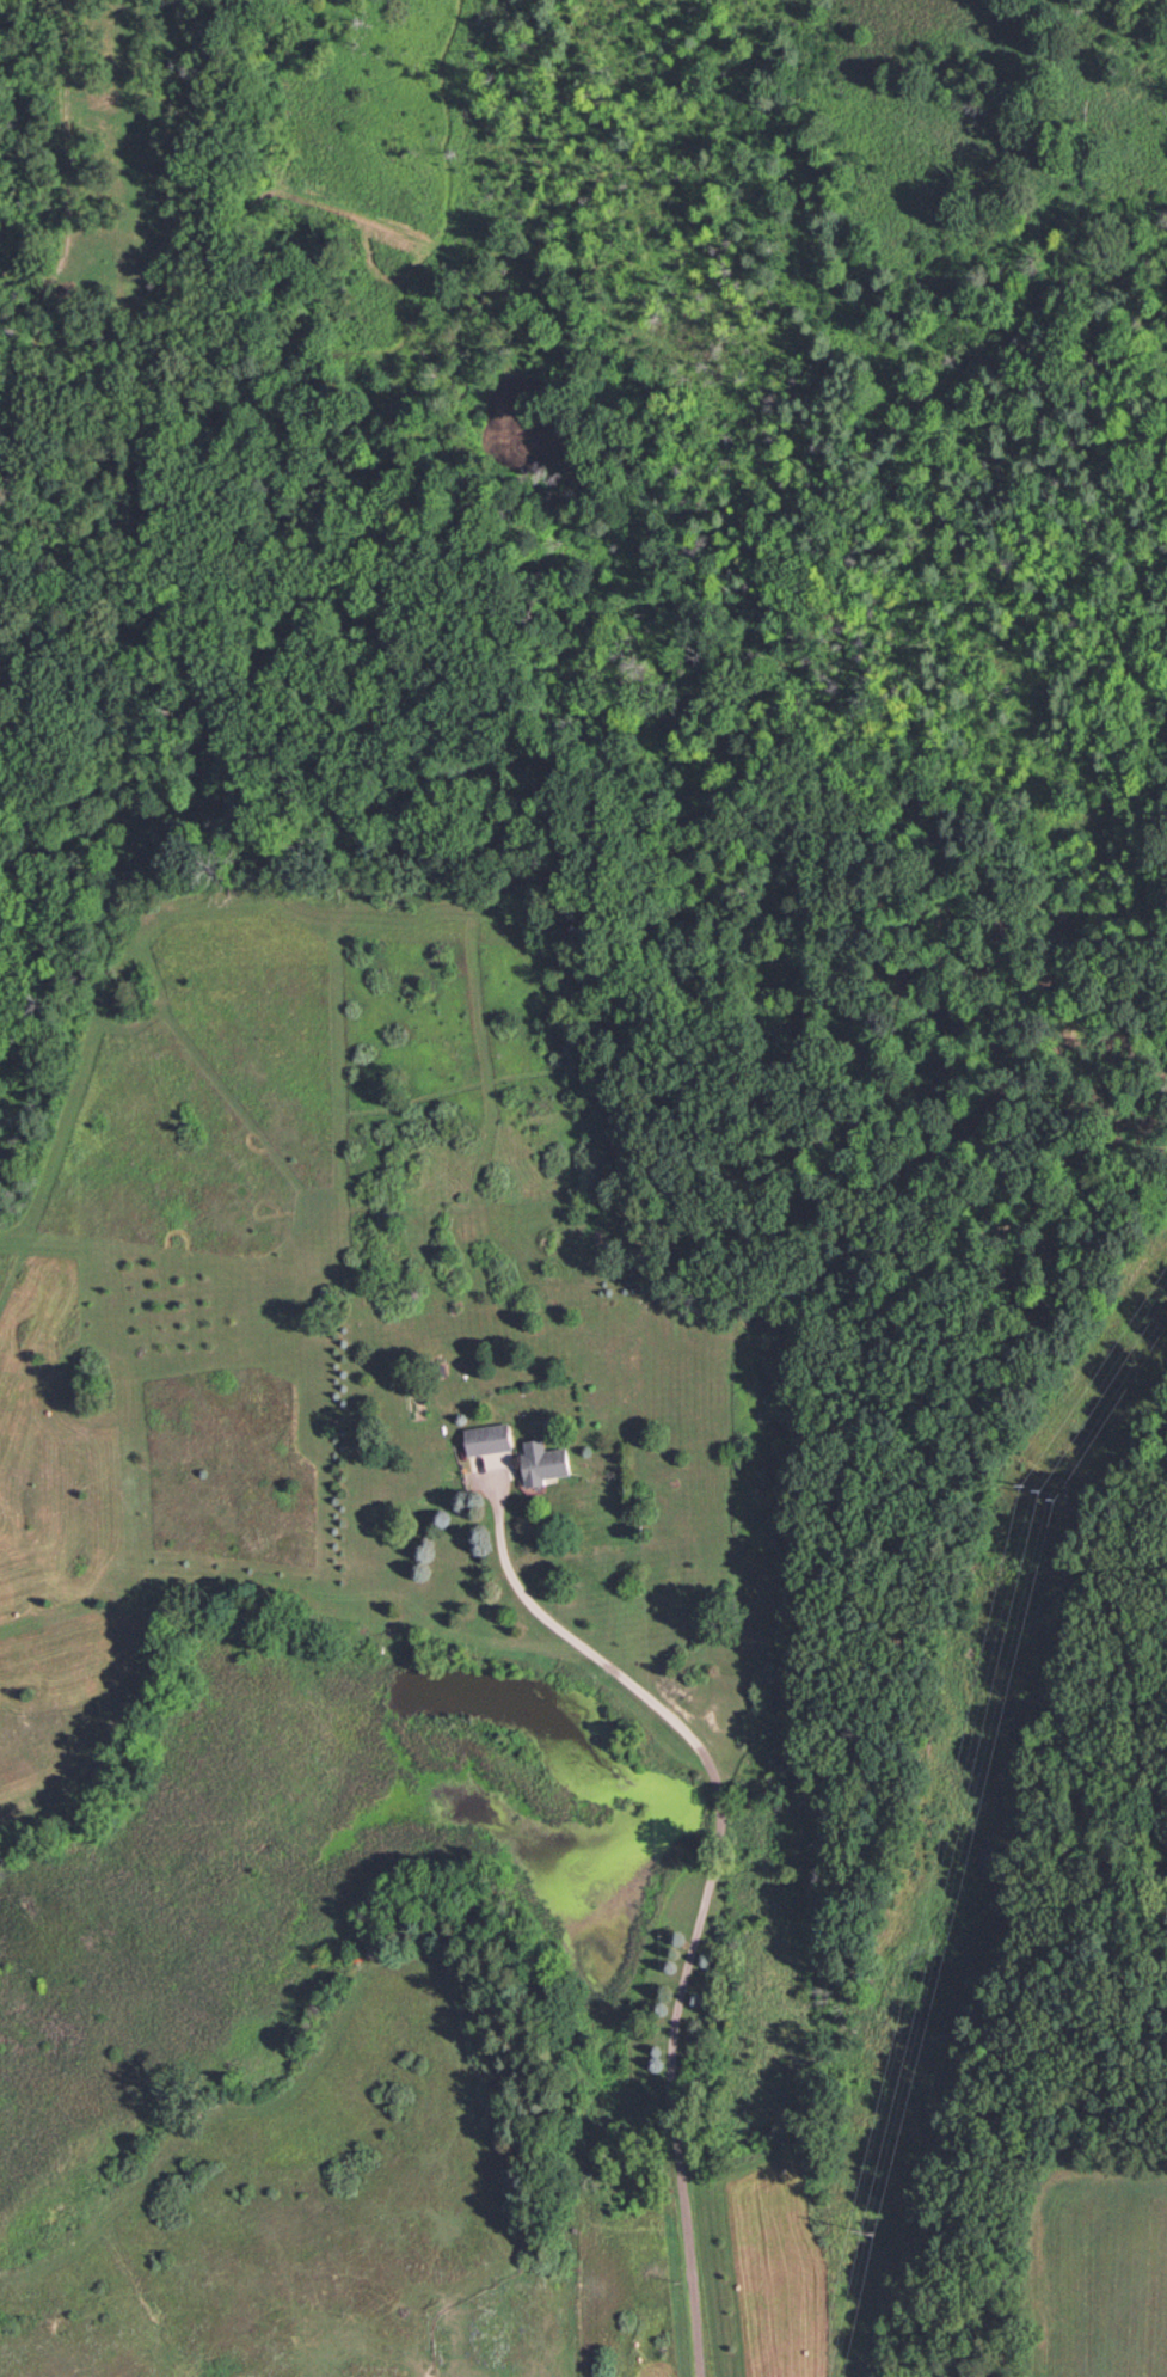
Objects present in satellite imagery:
building: (487, 1438)
building: (542, 1462)
power tower: (1040, 1505)
road: (700, 1912)
power tower: (868, 2235)
crop: (1105, 2269)

